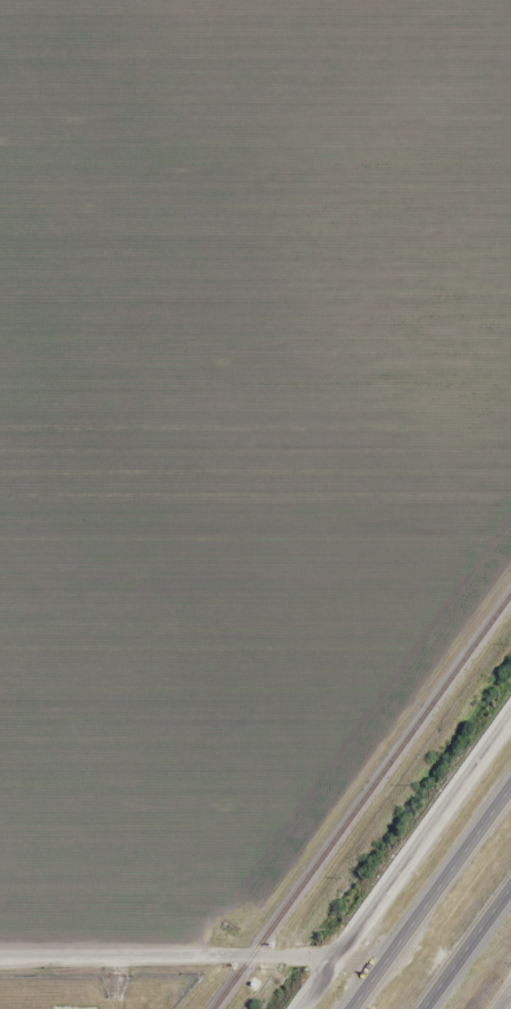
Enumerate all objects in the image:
railway: (363, 803)
road: (405, 862)
road: (430, 899)
road: (466, 947)
road: (168, 958)
road: (503, 998)

